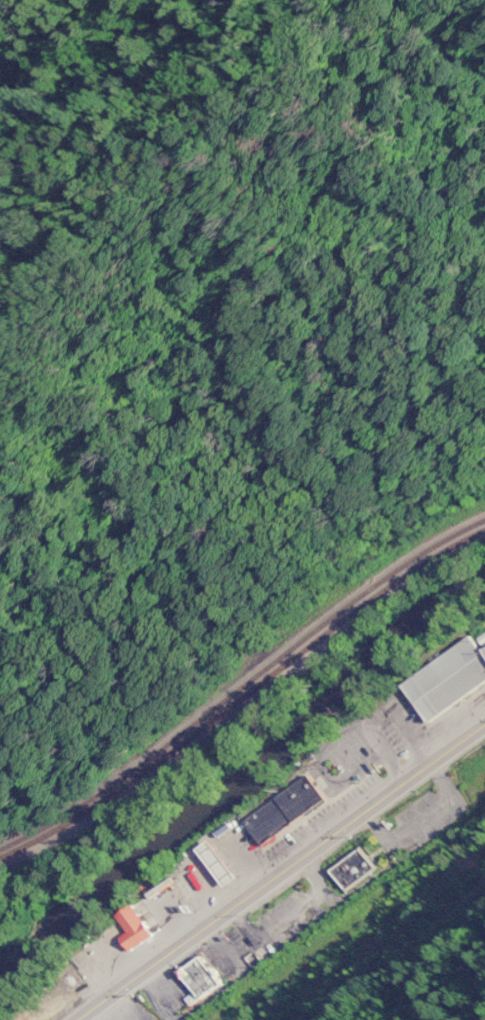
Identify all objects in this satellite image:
building: (448, 680)
railway: (242, 685)
railway: (243, 696)
river: (242, 778)
building: (283, 810)
building: (213, 863)
building: (350, 870)
road: (280, 872)
building: (132, 928)
building: (199, 979)

